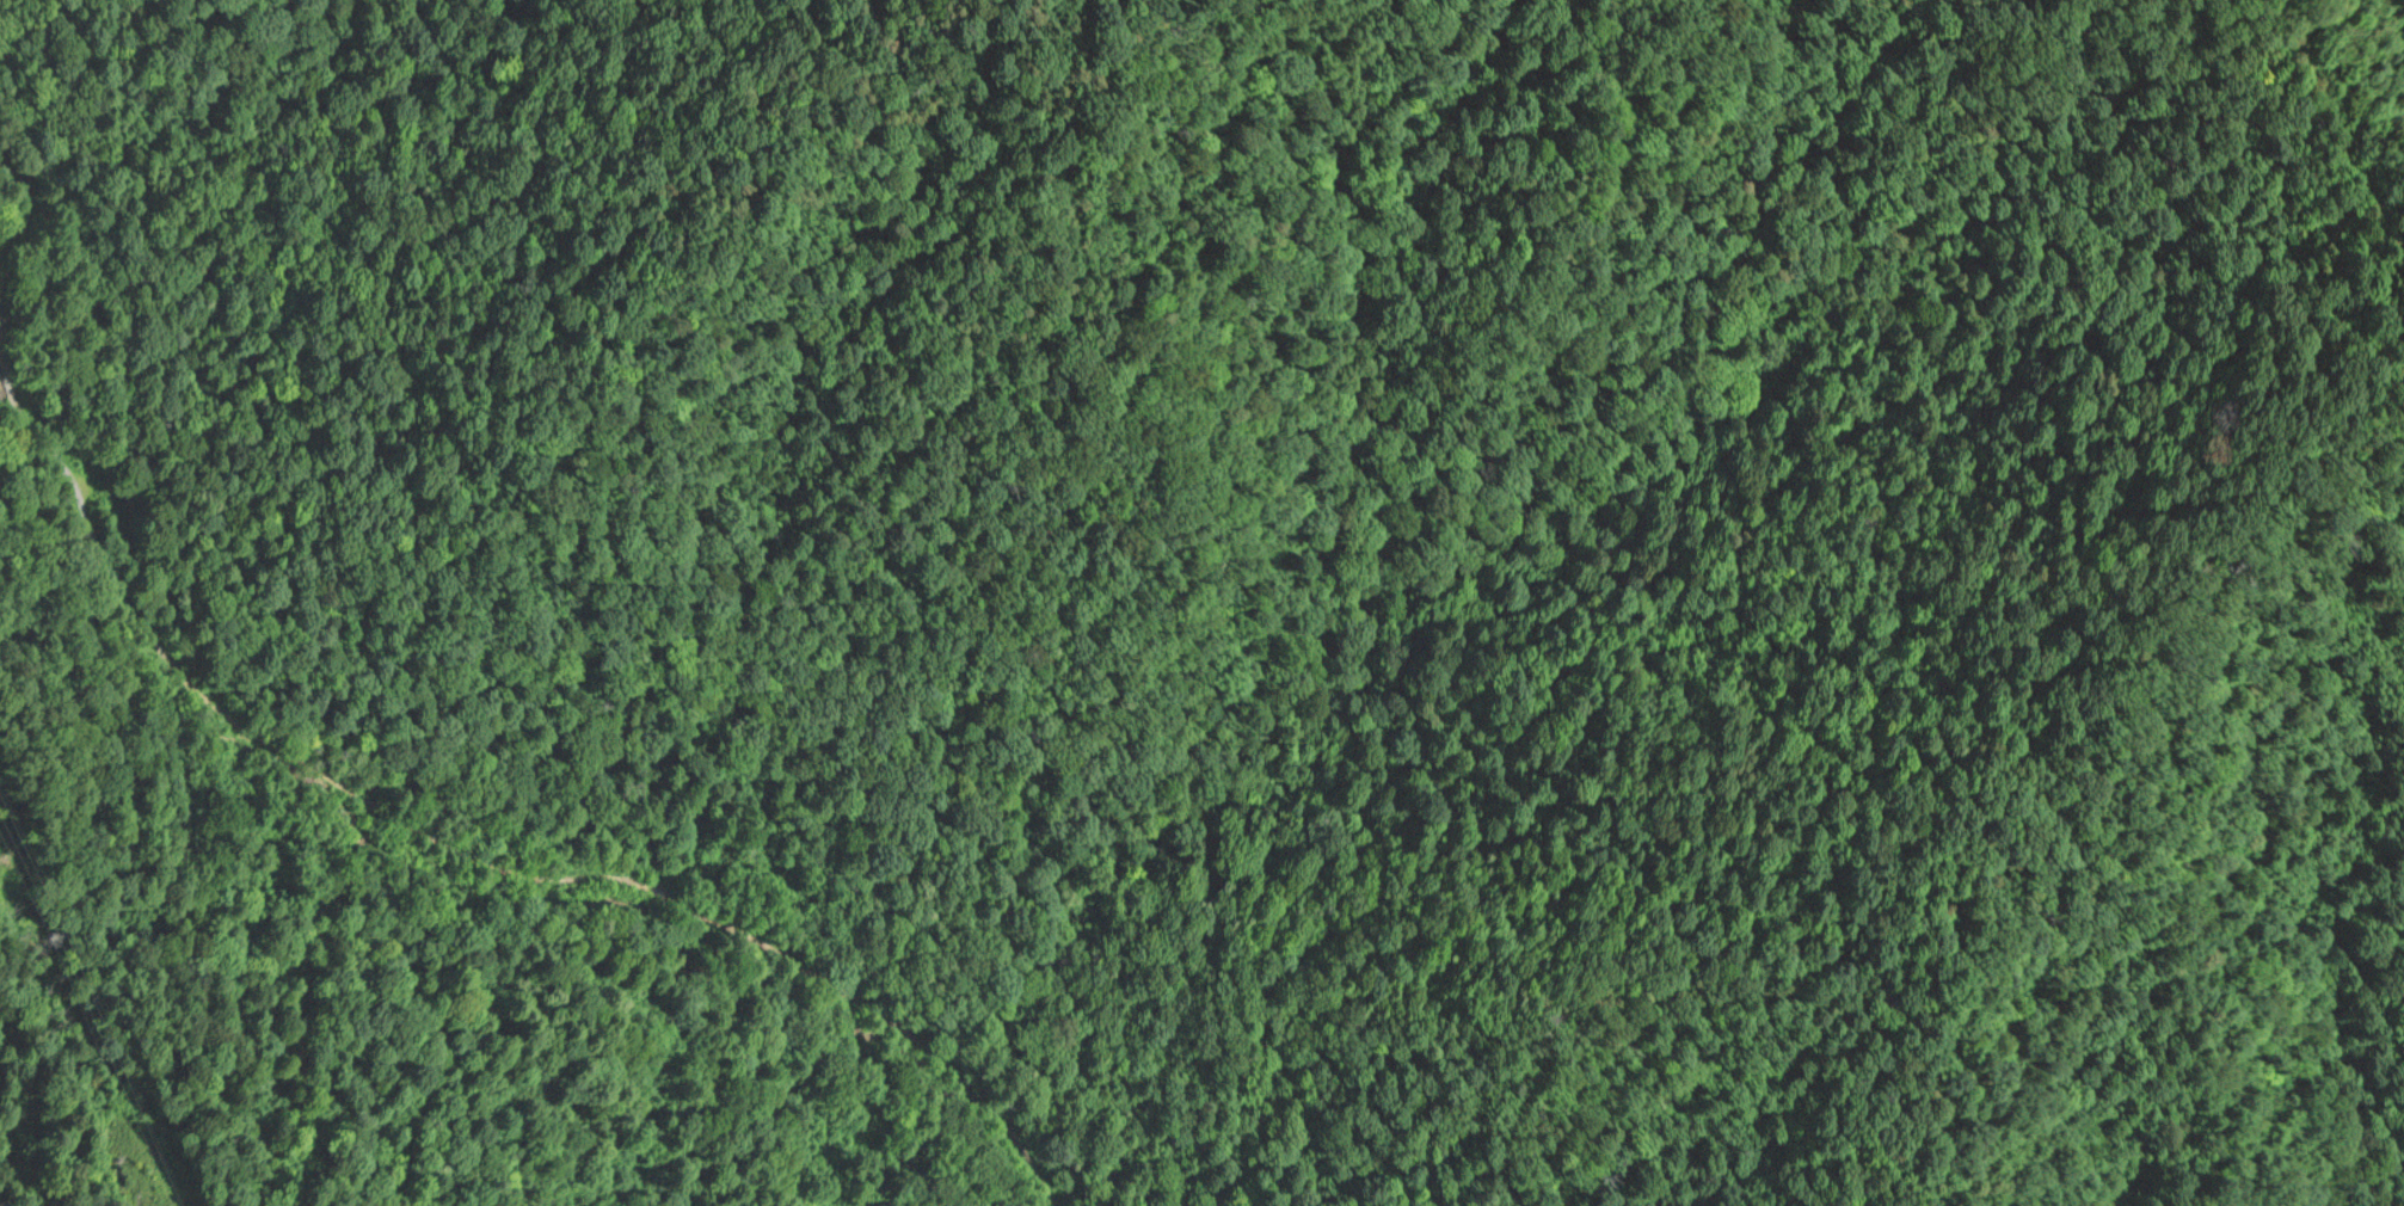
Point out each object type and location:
road: (432, 837)

